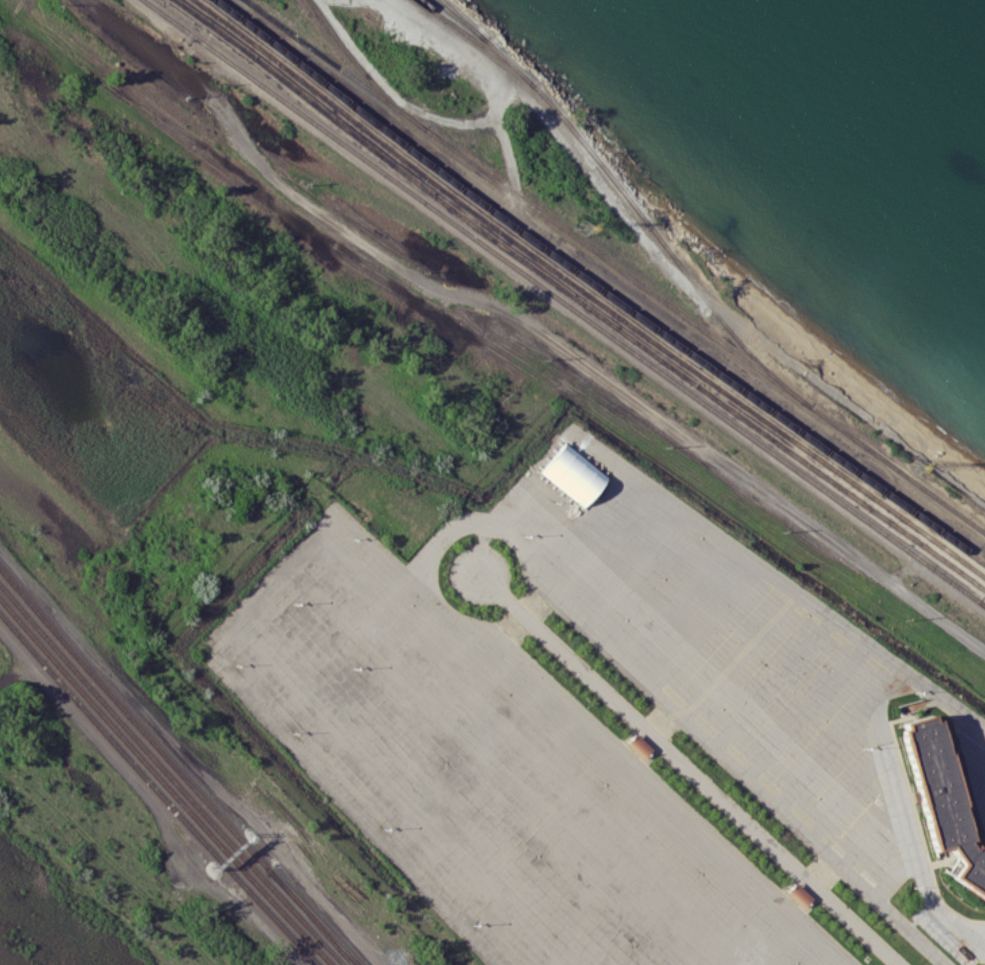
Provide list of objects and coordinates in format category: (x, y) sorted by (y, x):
railway: (460, 19)
railway: (476, 41)
railway: (361, 69)
railway: (628, 200)
railway: (527, 203)
road: (674, 270)
railway: (596, 286)
railway: (588, 292)
railway: (577, 297)
railway: (564, 302)
railway: (897, 468)
building: (573, 474)
railway: (983, 603)
railway: (134, 719)
railway: (172, 773)
railway: (164, 782)
railway: (157, 790)
building: (943, 799)
road: (917, 848)
building: (798, 895)
railway: (312, 918)
railway: (315, 918)

